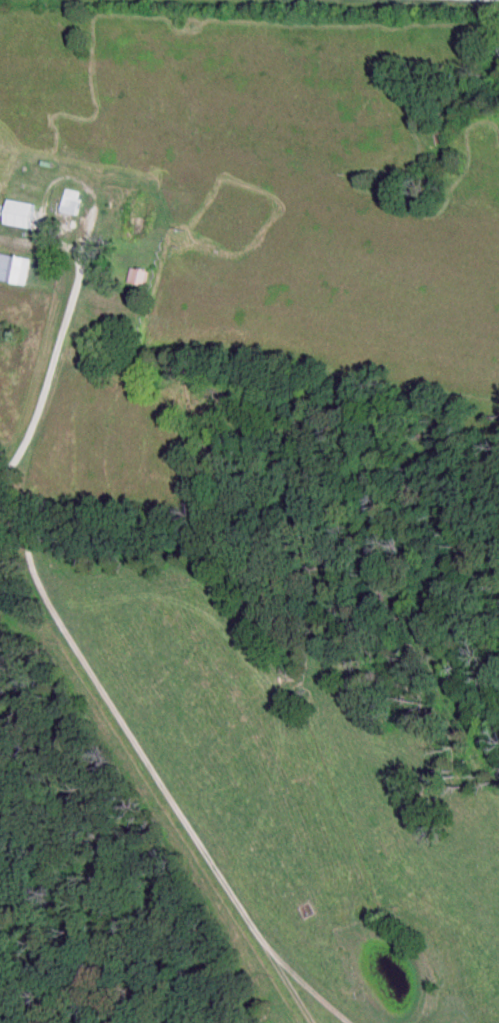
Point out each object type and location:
building: (69, 204)
building: (17, 216)
building: (125, 226)
building: (13, 272)
road: (128, 746)
road: (265, 954)

